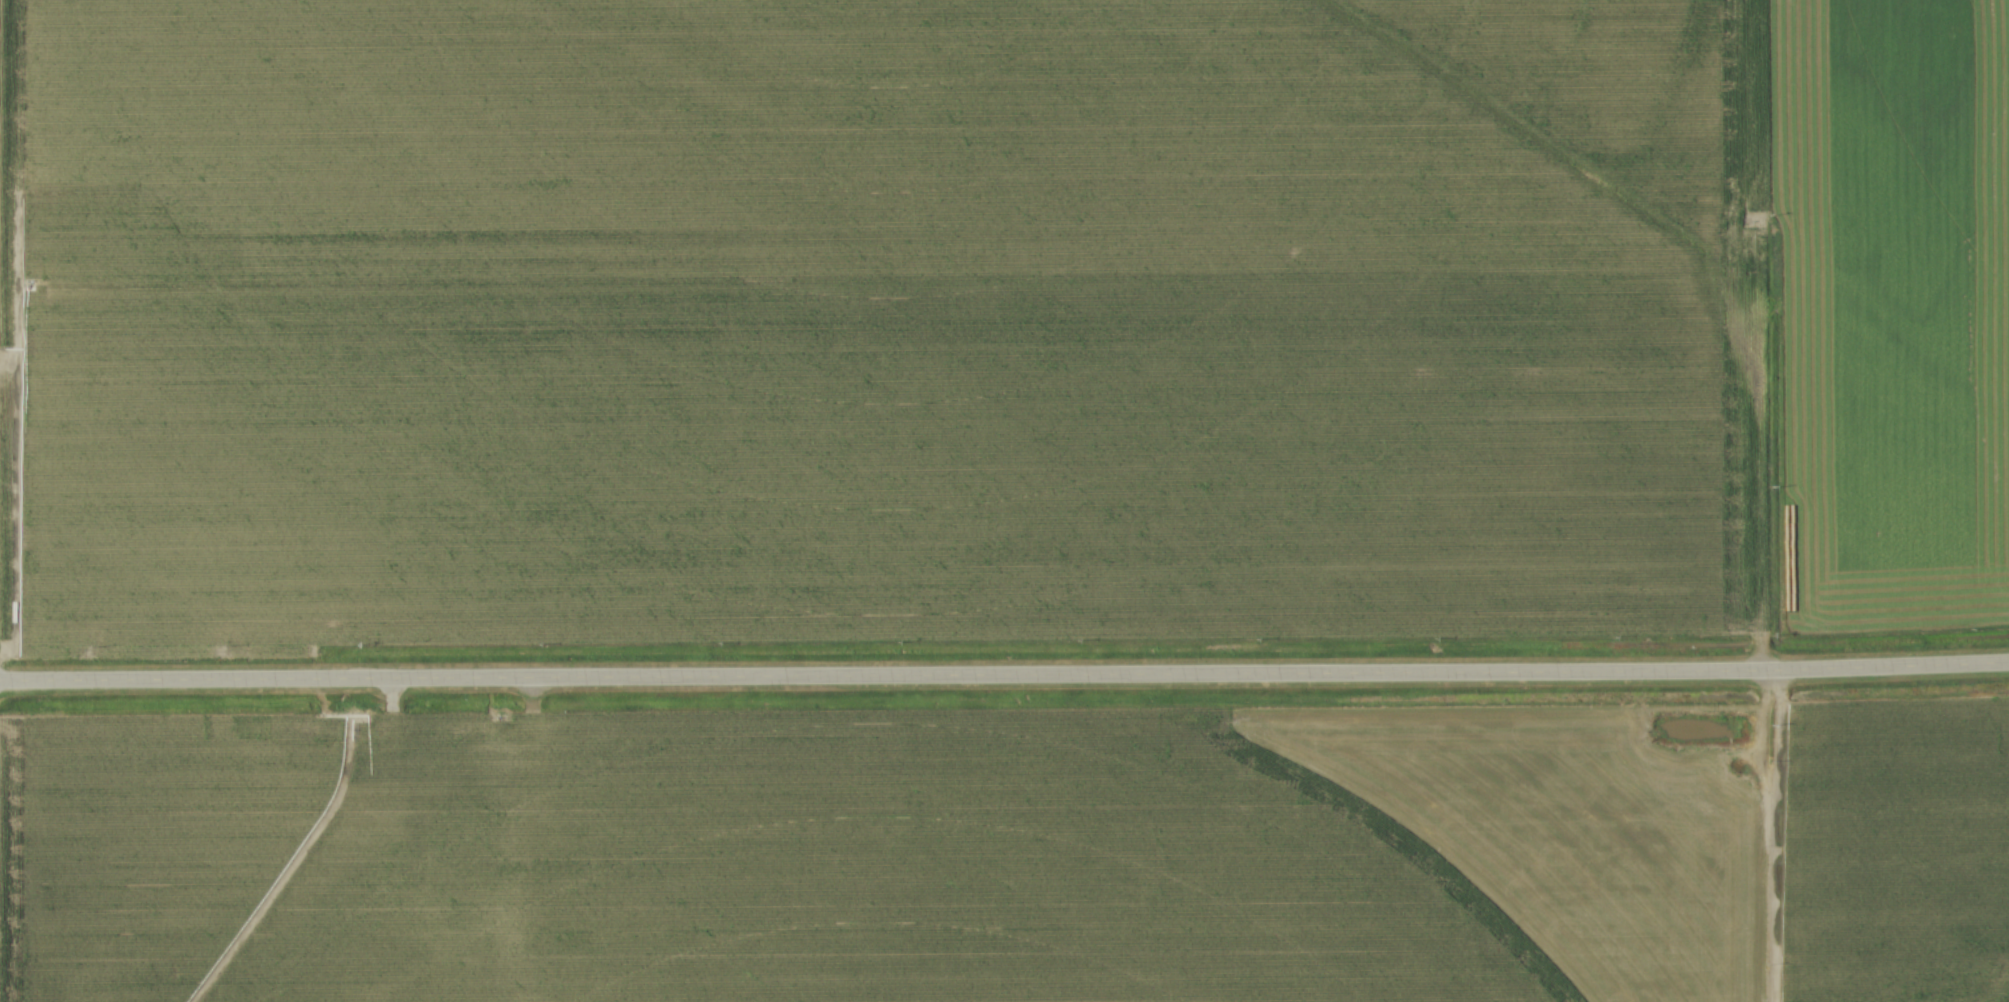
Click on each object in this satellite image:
crop: (1893, 312)
crop: (864, 322)
road: (1004, 675)
crop: (996, 855)

